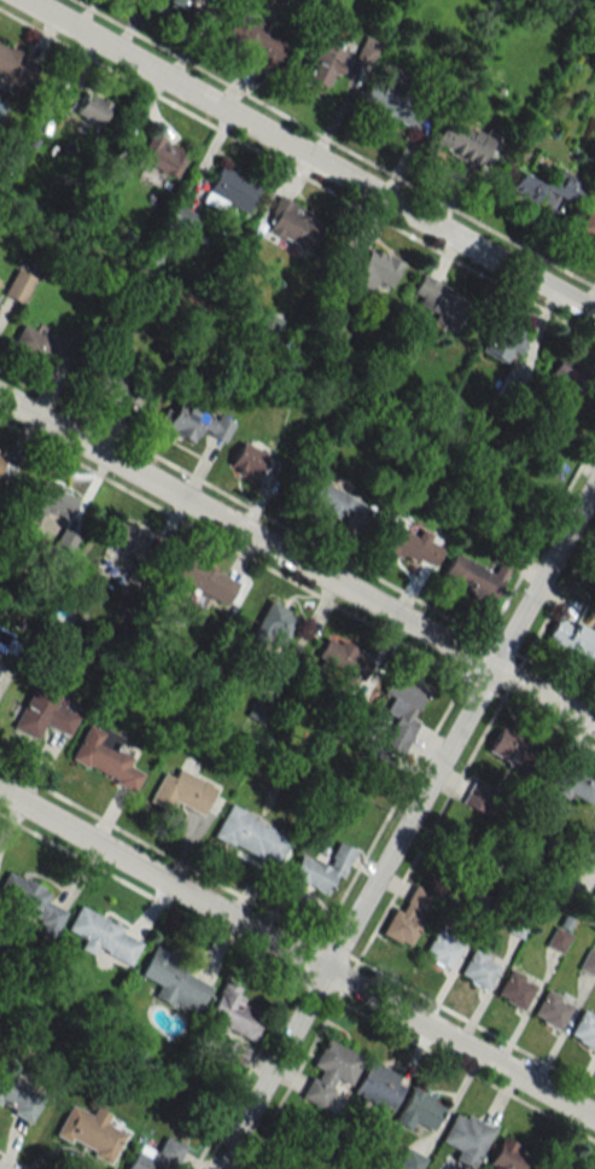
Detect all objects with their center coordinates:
building: (189, 6)
building: (255, 37)
building: (367, 50)
building: (325, 64)
building: (14, 66)
building: (392, 103)
building: (92, 107)
building: (461, 141)
road: (334, 143)
building: (163, 156)
road: (311, 156)
road: (297, 173)
building: (544, 181)
building: (232, 190)
building: (180, 217)
building: (588, 223)
building: (292, 225)
building: (368, 269)
building: (0, 279)
building: (18, 285)
building: (441, 303)
building: (504, 341)
building: (35, 344)
building: (567, 370)
building: (106, 383)
building: (194, 423)
building: (247, 461)
building: (6, 467)
building: (53, 500)
building: (322, 501)
road: (241, 502)
building: (66, 540)
building: (129, 540)
building: (396, 543)
road: (231, 547)
road: (297, 559)
building: (478, 576)
building: (200, 581)
building: (274, 624)
building: (572, 639)
road: (521, 657)
building: (348, 669)
building: (257, 710)
building: (401, 713)
building: (43, 714)
building: (507, 746)
building: (105, 757)
building: (574, 785)
building: (181, 791)
building: (480, 797)
road: (404, 825)
building: (250, 834)
building: (321, 870)
road: (587, 879)
building: (29, 901)
building: (403, 917)
building: (518, 925)
road: (322, 930)
building: (100, 935)
building: (555, 940)
road: (313, 948)
building: (438, 948)
road: (297, 953)
building: (587, 961)
building: (474, 969)
building: (169, 979)
building: (512, 988)
road: (349, 1008)
building: (548, 1008)
building: (232, 1012)
road: (474, 1025)
building: (583, 1029)
building: (234, 1052)
building: (329, 1072)
building: (378, 1086)
building: (18, 1097)
building: (418, 1110)
building: (88, 1133)
building: (465, 1138)
building: (506, 1155)
building: (156, 1156)
road: (13, 1161)
building: (409, 1161)

